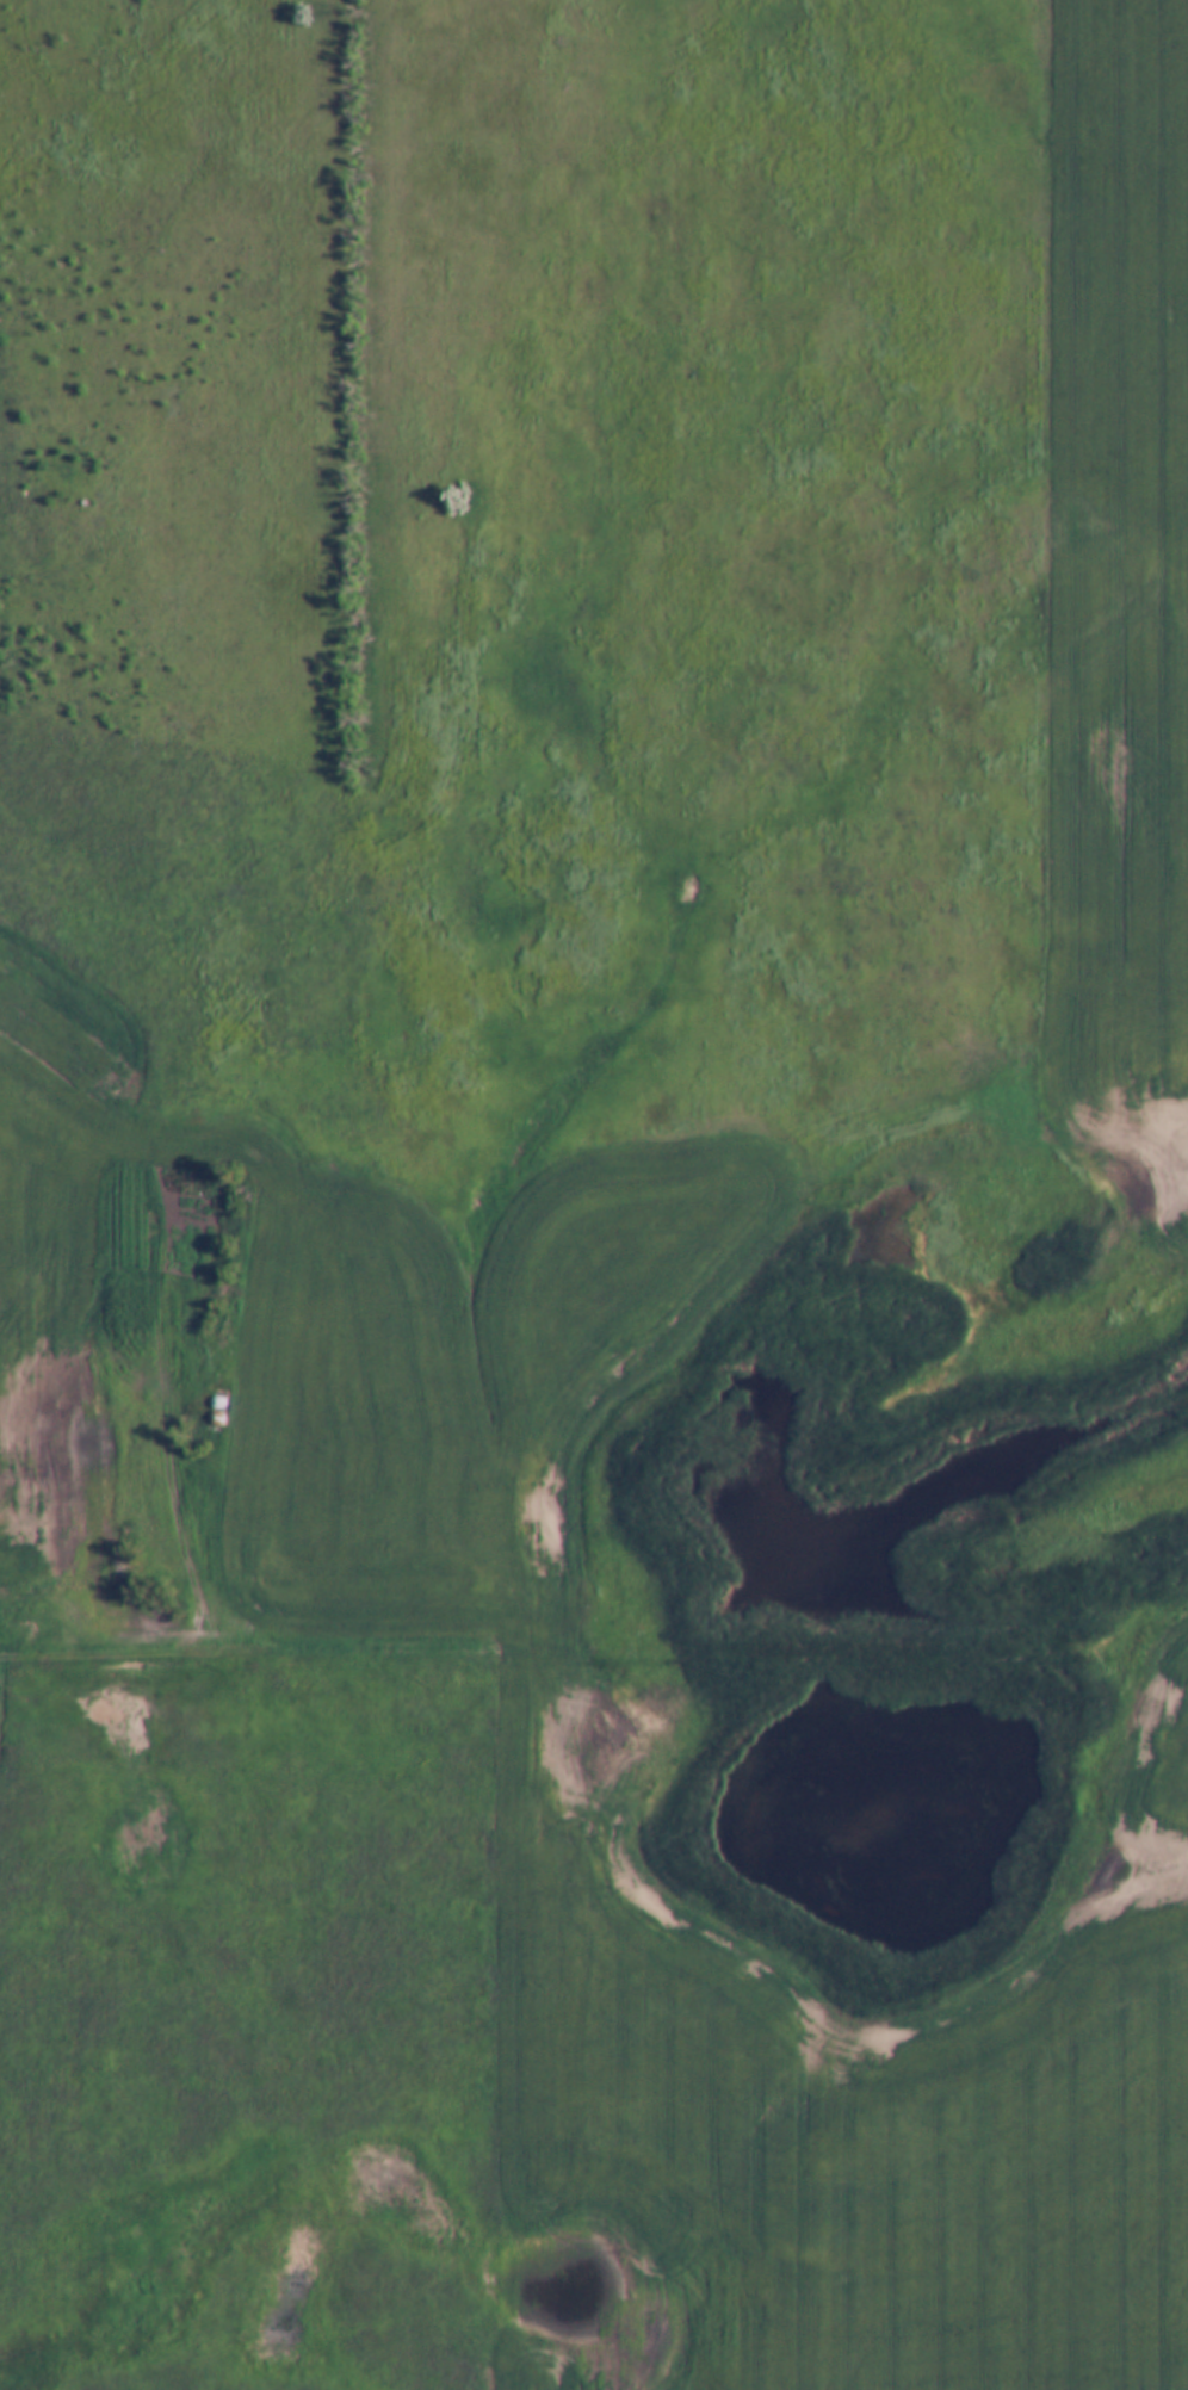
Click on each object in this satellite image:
road: (481, 1649)

